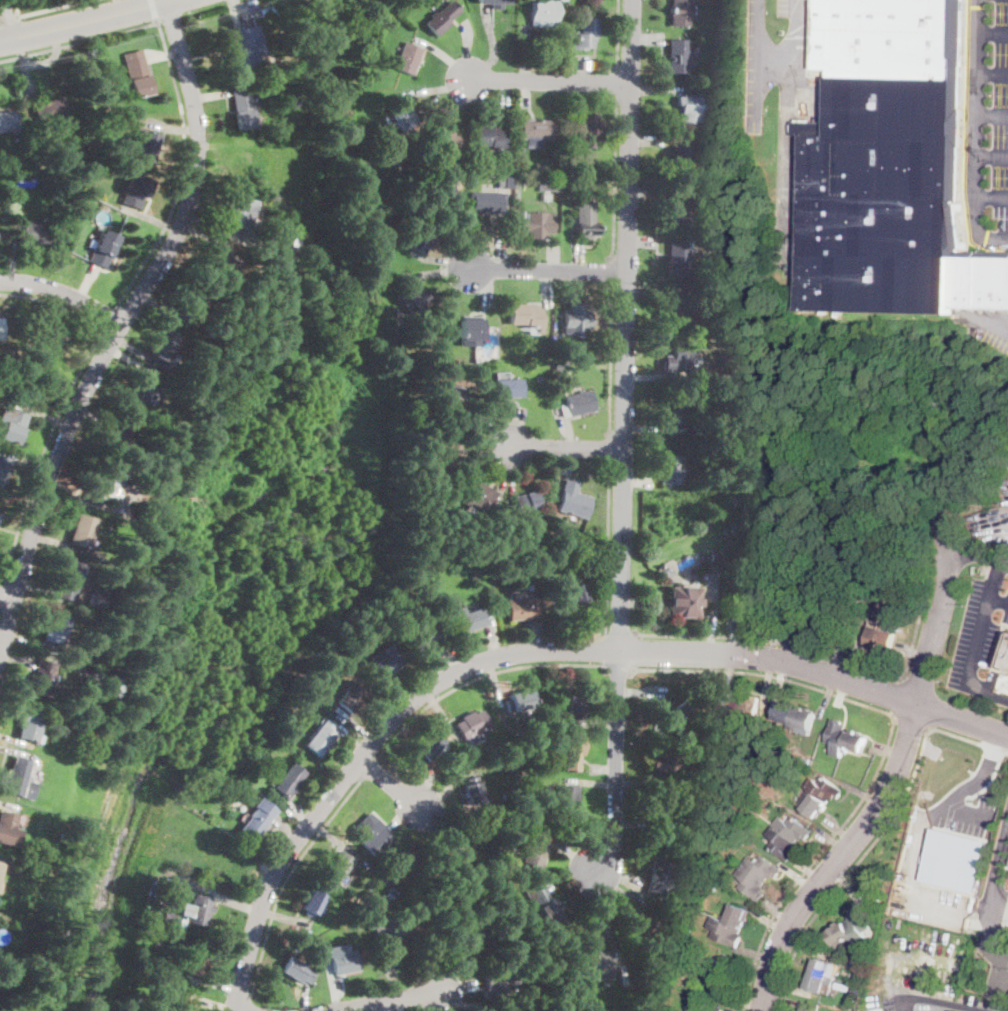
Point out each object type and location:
building: (562, 0)
building: (494, 1)
road: (212, 7)
road: (18, 8)
road: (56, 8)
road: (247, 10)
road: (154, 11)
road: (237, 12)
building: (683, 12)
building: (543, 13)
road: (10, 18)
building: (441, 18)
road: (10, 19)
road: (171, 19)
road: (86, 22)
road: (993, 32)
building: (587, 34)
road: (618, 34)
road: (646, 37)
road: (79, 42)
road: (492, 44)
building: (246, 48)
road: (467, 50)
road: (164, 54)
road: (525, 54)
road: (443, 56)
building: (679, 56)
building: (272, 58)
building: (408, 58)
road: (773, 58)
road: (42, 63)
road: (755, 65)
road: (992, 73)
building: (137, 74)
building: (360, 77)
road: (27, 81)
road: (548, 81)
road: (617, 82)
road: (433, 89)
road: (657, 89)
road: (525, 92)
road: (505, 94)
road: (210, 95)
road: (573, 97)
building: (108, 102)
building: (293, 102)
road: (461, 104)
building: (242, 108)
building: (689, 108)
building: (50, 111)
road: (992, 114)
building: (403, 115)
road: (975, 119)
building: (7, 120)
road: (789, 123)
parking lot: (987, 123)
road: (171, 128)
building: (588, 130)
building: (536, 132)
building: (490, 137)
road: (645, 138)
building: (18, 139)
building: (445, 142)
building: (286, 144)
building: (146, 145)
building: (40, 146)
road: (225, 146)
building: (685, 156)
road: (991, 156)
building: (243, 162)
building: (580, 163)
building: (890, 165)
road: (183, 171)
building: (75, 176)
road: (615, 178)
building: (23, 181)
building: (548, 184)
building: (570, 187)
building: (496, 188)
building: (134, 190)
building: (453, 193)
road: (991, 197)
building: (487, 202)
building: (678, 207)
building: (522, 213)
building: (240, 214)
road: (643, 214)
road: (151, 218)
building: (585, 219)
road: (212, 224)
building: (535, 225)
building: (34, 232)
road: (204, 237)
building: (420, 237)
road: (995, 237)
building: (102, 249)
building: (293, 251)
road: (500, 253)
road: (12, 254)
road: (646, 255)
road: (554, 258)
building: (679, 258)
road: (440, 259)
road: (579, 259)
building: (213, 269)
road: (612, 270)
road: (439, 271)
road: (547, 271)
road: (85, 282)
road: (487, 285)
road: (570, 285)
road: (547, 292)
road: (63, 293)
road: (647, 294)
building: (414, 298)
road: (54, 302)
building: (191, 305)
road: (163, 308)
building: (681, 310)
road: (63, 313)
building: (522, 315)
road: (110, 318)
building: (576, 319)
road: (994, 323)
parking lot: (987, 324)
road: (119, 328)
building: (0, 332)
building: (469, 333)
building: (165, 346)
building: (49, 348)
building: (565, 348)
road: (140, 353)
building: (679, 357)
road: (611, 358)
road: (135, 363)
road: (645, 377)
building: (508, 388)
building: (139, 392)
building: (451, 401)
building: (580, 403)
building: (675, 407)
road: (104, 410)
road: (48, 415)
building: (13, 420)
road: (517, 424)
road: (487, 427)
road: (569, 428)
road: (649, 428)
building: (115, 437)
road: (623, 438)
road: (567, 447)
road: (610, 449)
road: (43, 452)
building: (446, 454)
road: (488, 455)
road: (30, 461)
building: (1, 462)
road: (567, 463)
road: (506, 468)
road: (511, 468)
building: (669, 469)
building: (123, 477)
road: (635, 479)
building: (97, 483)
building: (480, 494)
road: (80, 497)
building: (459, 499)
building: (574, 501)
building: (526, 502)
parking lot: (993, 513)
road: (1007, 522)
building: (108, 529)
building: (82, 531)
building: (536, 533)
road: (58, 542)
road: (608, 550)
road: (973, 551)
building: (713, 556)
road: (1004, 561)
building: (667, 570)
building: (474, 575)
building: (66, 578)
building: (670, 580)
building: (530, 585)
road: (36, 588)
road: (3, 593)
road: (7, 595)
building: (749, 595)
building: (573, 596)
building: (760, 596)
building: (453, 600)
road: (999, 600)
building: (97, 602)
building: (683, 602)
road: (633, 603)
building: (522, 608)
building: (486, 609)
road: (712, 610)
building: (813, 614)
building: (467, 619)
building: (831, 619)
road: (732, 625)
building: (55, 629)
road: (773, 630)
parking lot: (982, 631)
road: (570, 632)
road: (790, 632)
building: (424, 635)
road: (620, 635)
road: (492, 636)
road: (537, 636)
building: (873, 637)
building: (886, 638)
road: (768, 639)
road: (23, 641)
road: (978, 642)
road: (838, 649)
road: (604, 650)
road: (912, 650)
road: (914, 650)
road: (634, 651)
road: (528, 652)
road: (853, 655)
road: (449, 658)
road: (17, 659)
building: (387, 661)
building: (1006, 662)
road: (617, 667)
road: (724, 670)
road: (782, 670)
road: (765, 675)
road: (477, 677)
building: (42, 678)
road: (495, 681)
road: (389, 688)
building: (111, 689)
road: (639, 690)
road: (841, 692)
building: (315, 693)
building: (777, 693)
road: (826, 695)
building: (350, 697)
road: (896, 697)
building: (521, 701)
building: (576, 709)
building: (730, 709)
building: (749, 709)
building: (787, 713)
building: (676, 714)
road: (444, 716)
building: (804, 718)
road: (602, 721)
road: (357, 723)
road: (910, 723)
building: (30, 724)
building: (471, 724)
building: (321, 737)
building: (838, 737)
road: (15, 739)
road: (354, 741)
building: (855, 741)
building: (291, 748)
building: (426, 748)
road: (886, 748)
road: (992, 748)
road: (887, 750)
building: (573, 752)
road: (1005, 752)
road: (18, 754)
building: (662, 762)
road: (371, 768)
road: (604, 769)
road: (634, 775)
building: (19, 780)
building: (290, 780)
road: (989, 780)
road: (590, 783)
road: (389, 784)
road: (427, 787)
building: (825, 789)
road: (444, 790)
building: (472, 791)
building: (189, 792)
building: (535, 793)
road: (863, 794)
road: (888, 794)
building: (567, 798)
building: (814, 803)
building: (149, 804)
road: (8, 805)
road: (966, 810)
road: (300, 813)
road: (402, 814)
building: (660, 814)
road: (631, 816)
parking lot: (968, 816)
building: (512, 817)
building: (258, 819)
road: (441, 823)
building: (793, 828)
building: (9, 829)
road: (287, 829)
road: (840, 830)
building: (372, 836)
road: (333, 837)
building: (514, 840)
road: (833, 840)
building: (781, 842)
road: (921, 844)
road: (869, 848)
building: (536, 851)
building: (454, 854)
road: (572, 854)
building: (408, 855)
road: (3, 859)
road: (254, 859)
building: (954, 859)
building: (171, 862)
building: (478, 863)
building: (0, 865)
building: (224, 865)
building: (337, 866)
building: (762, 867)
building: (136, 869)
road: (809, 871)
road: (568, 875)
road: (797, 876)
road: (287, 877)
building: (662, 878)
road: (618, 879)
building: (751, 883)
road: (847, 884)
building: (712, 887)
road: (617, 888)
parking lot: (1007, 895)
road: (989, 897)
building: (873, 899)
building: (312, 902)
road: (237, 904)
building: (542, 904)
road: (599, 904)
building: (199, 911)
road: (775, 911)
building: (418, 913)
building: (381, 915)
building: (737, 915)
building: (168, 916)
road: (284, 916)
road: (771, 921)
building: (357, 923)
building: (639, 924)
road: (998, 924)
building: (858, 925)
building: (62, 929)
building: (687, 930)
building: (725, 930)
building: (468, 931)
road: (807, 936)
building: (842, 936)
building: (146, 937)
building: (391, 938)
building: (342, 939)
road: (799, 951)
road: (757, 954)
road: (1005, 955)
building: (343, 960)
building: (593, 960)
parking lot: (918, 960)
building: (198, 962)
road: (750, 963)
building: (722, 967)
building: (298, 970)
building: (822, 970)
road: (998, 973)
road: (455, 974)
road: (332, 979)
building: (718, 979)
road: (391, 980)
building: (500, 980)
road: (214, 984)
building: (819, 984)
road: (459, 987)
road: (790, 987)
road: (1001, 991)
road: (306, 997)
road: (740, 998)
road: (786, 1000)
road: (389, 1001)
road: (460, 1001)
parking lot: (935, 1002)
road: (942, 1002)
road: (208, 1003)
road: (248, 1003)
road: (404, 1005)
building: (174, 1006)
road: (386, 1006)
building: (708, 1007)
road: (730, 1007)
building: (805, 1009)
road: (236, 1010)
building: (690, 1010)
building: (877, 1010)

